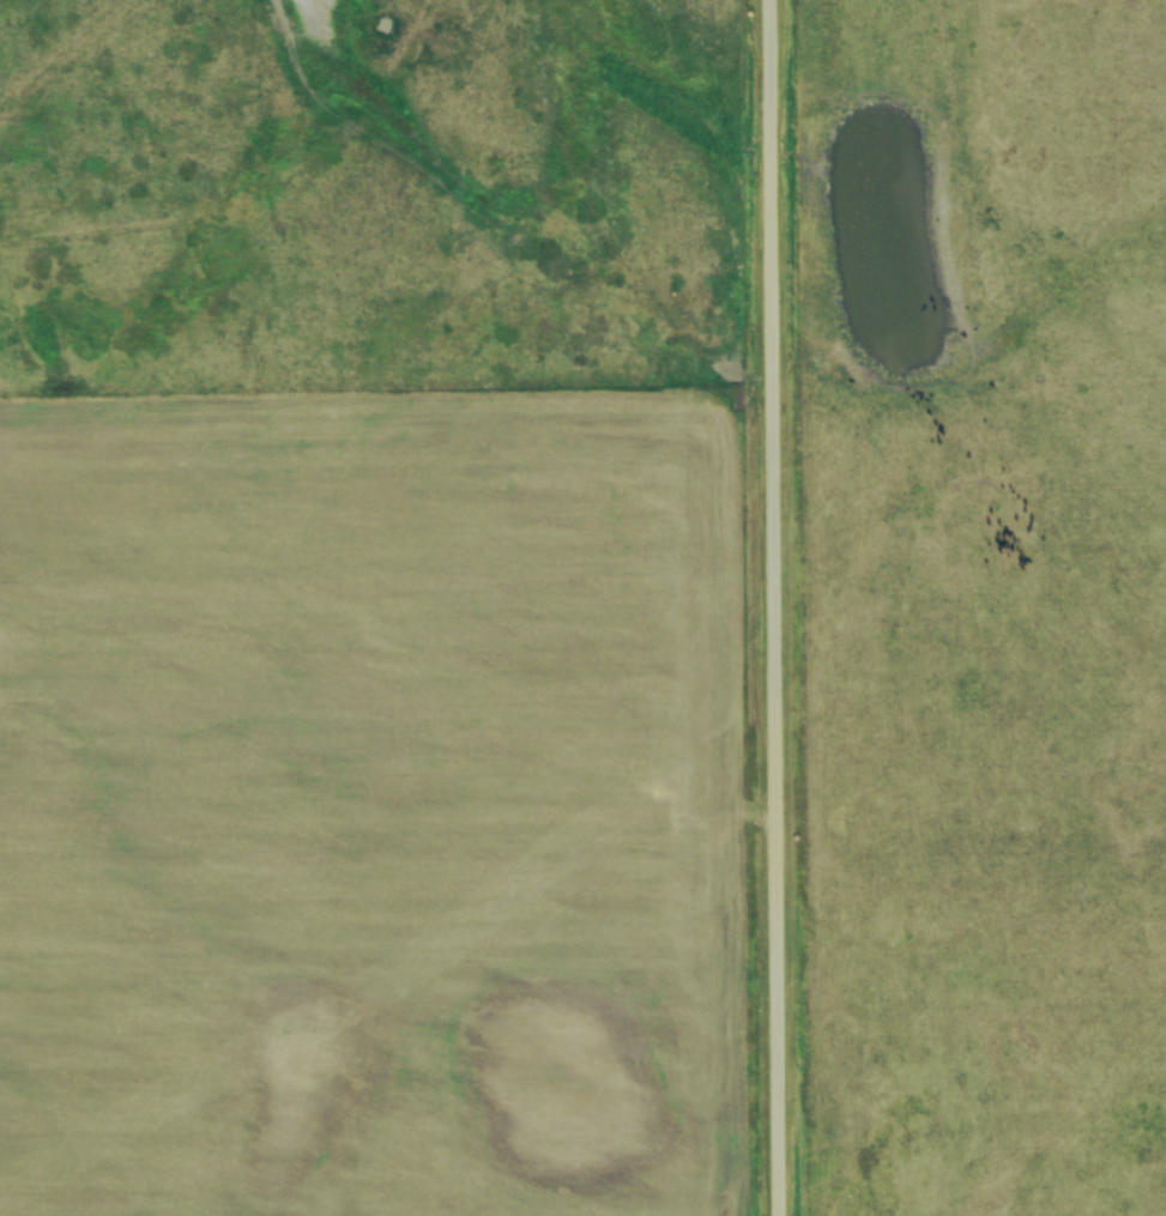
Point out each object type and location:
road: (774, 607)

